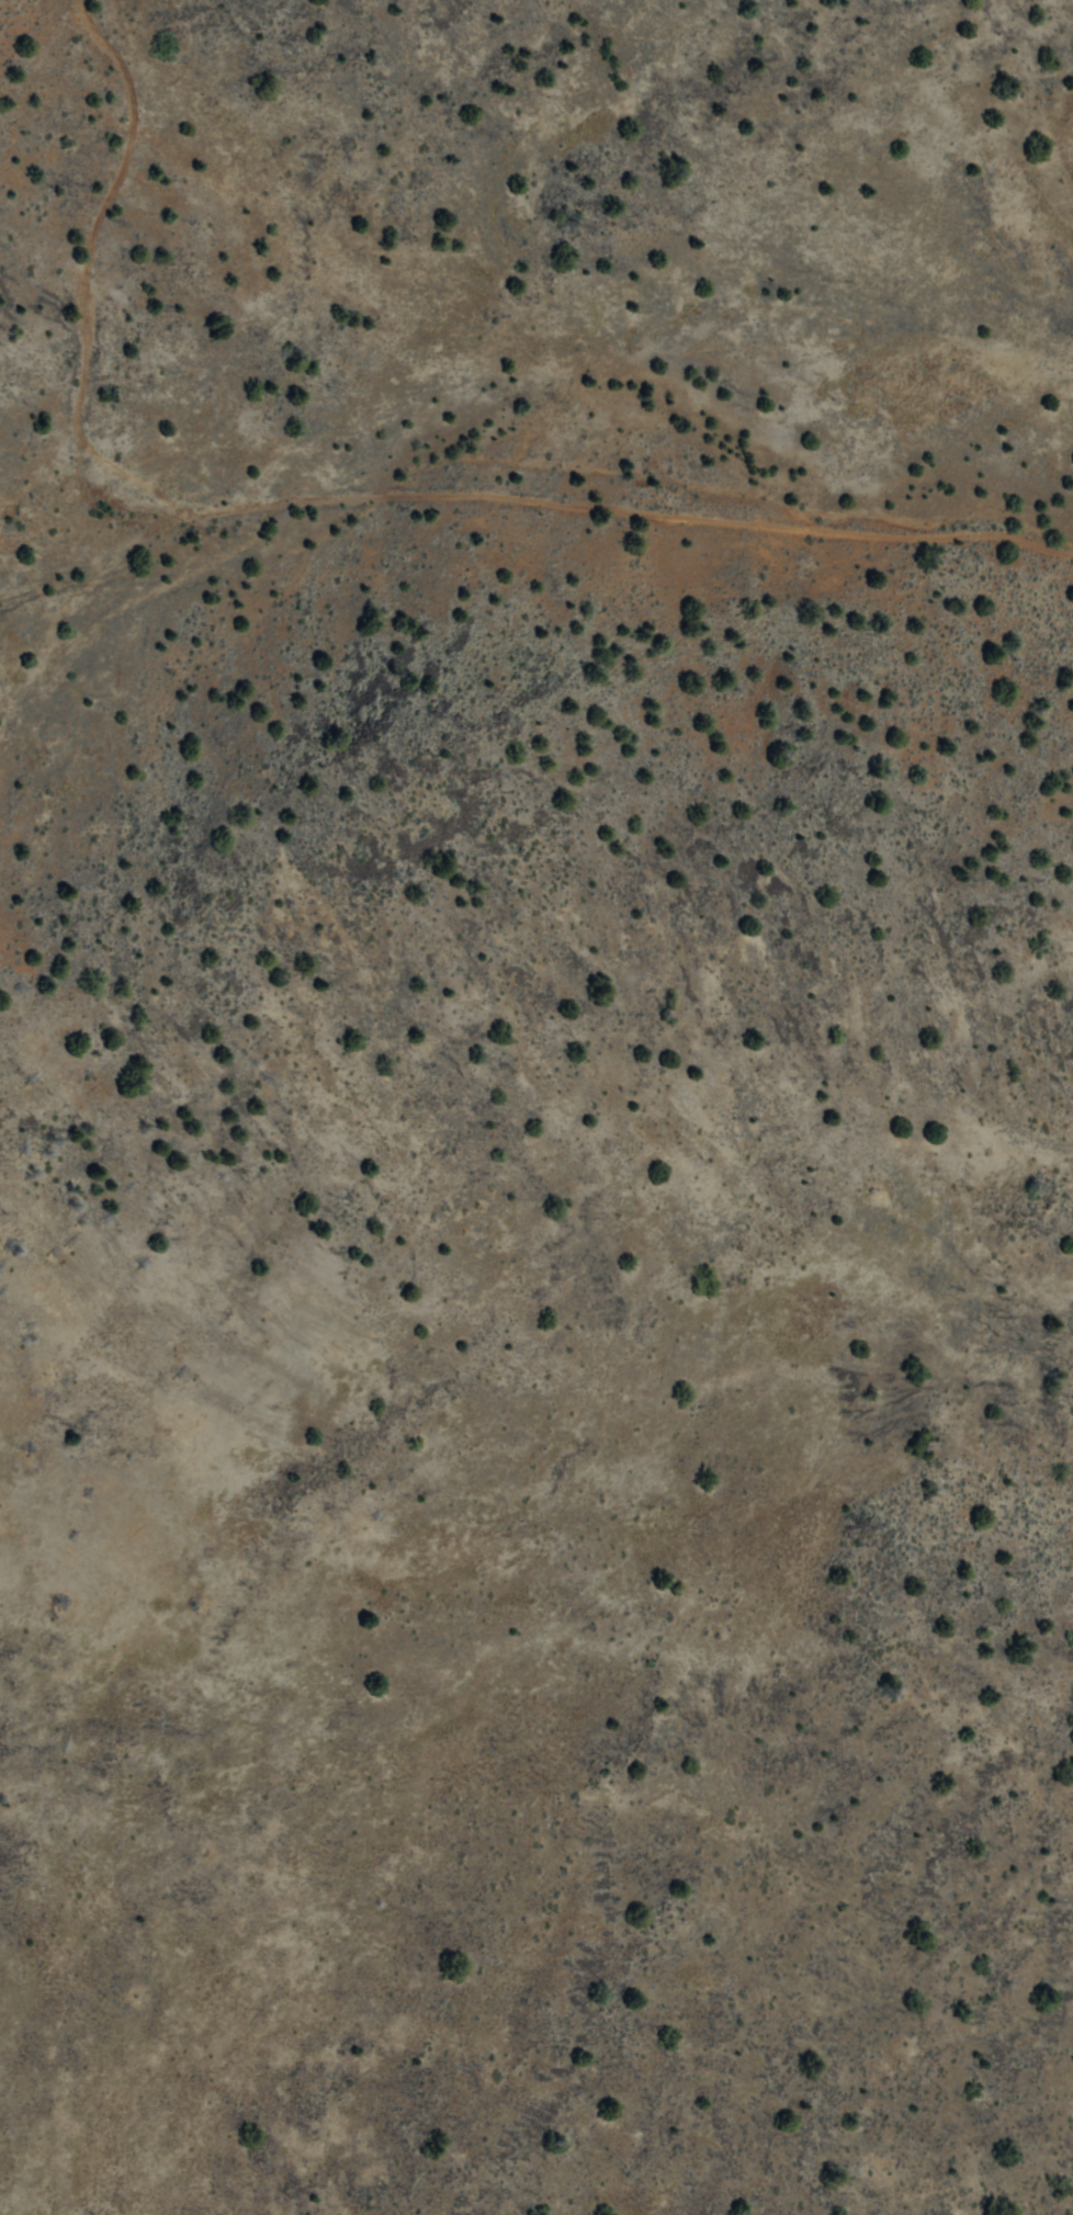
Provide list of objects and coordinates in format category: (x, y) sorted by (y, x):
road: (339, 497)

